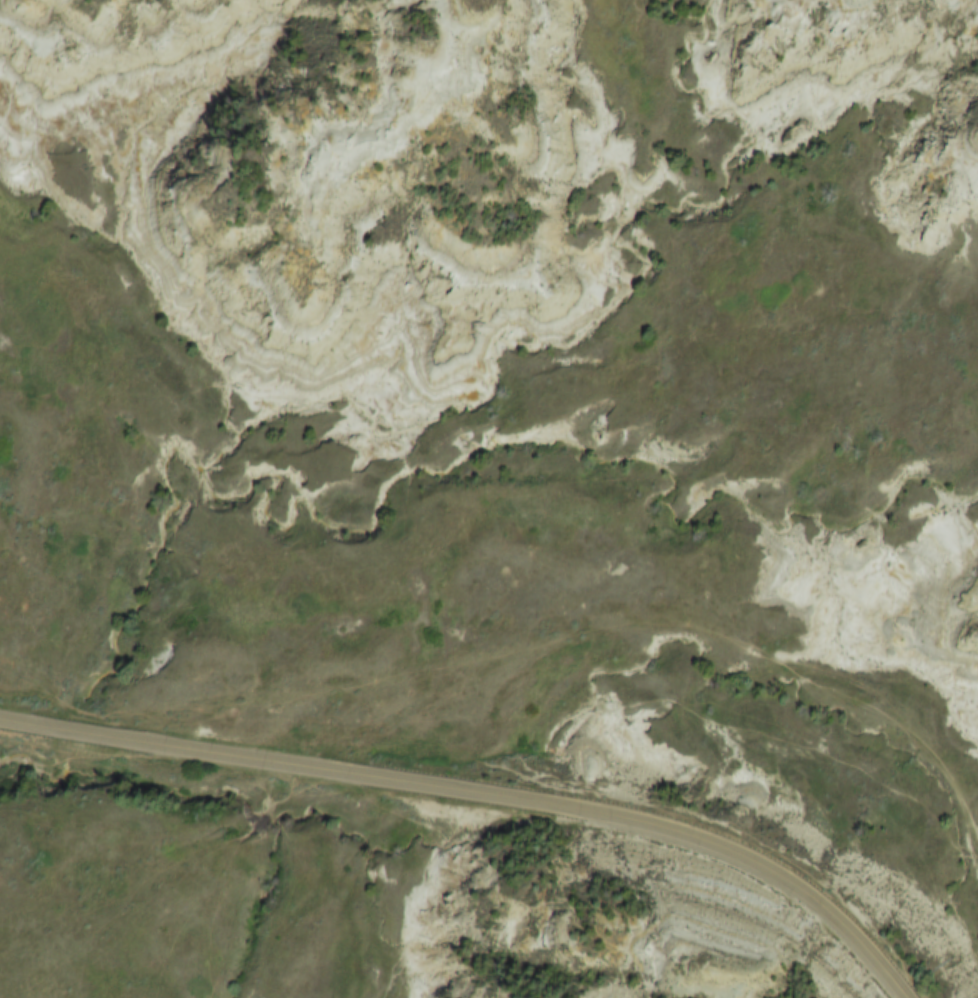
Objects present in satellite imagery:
road: (478, 793)

